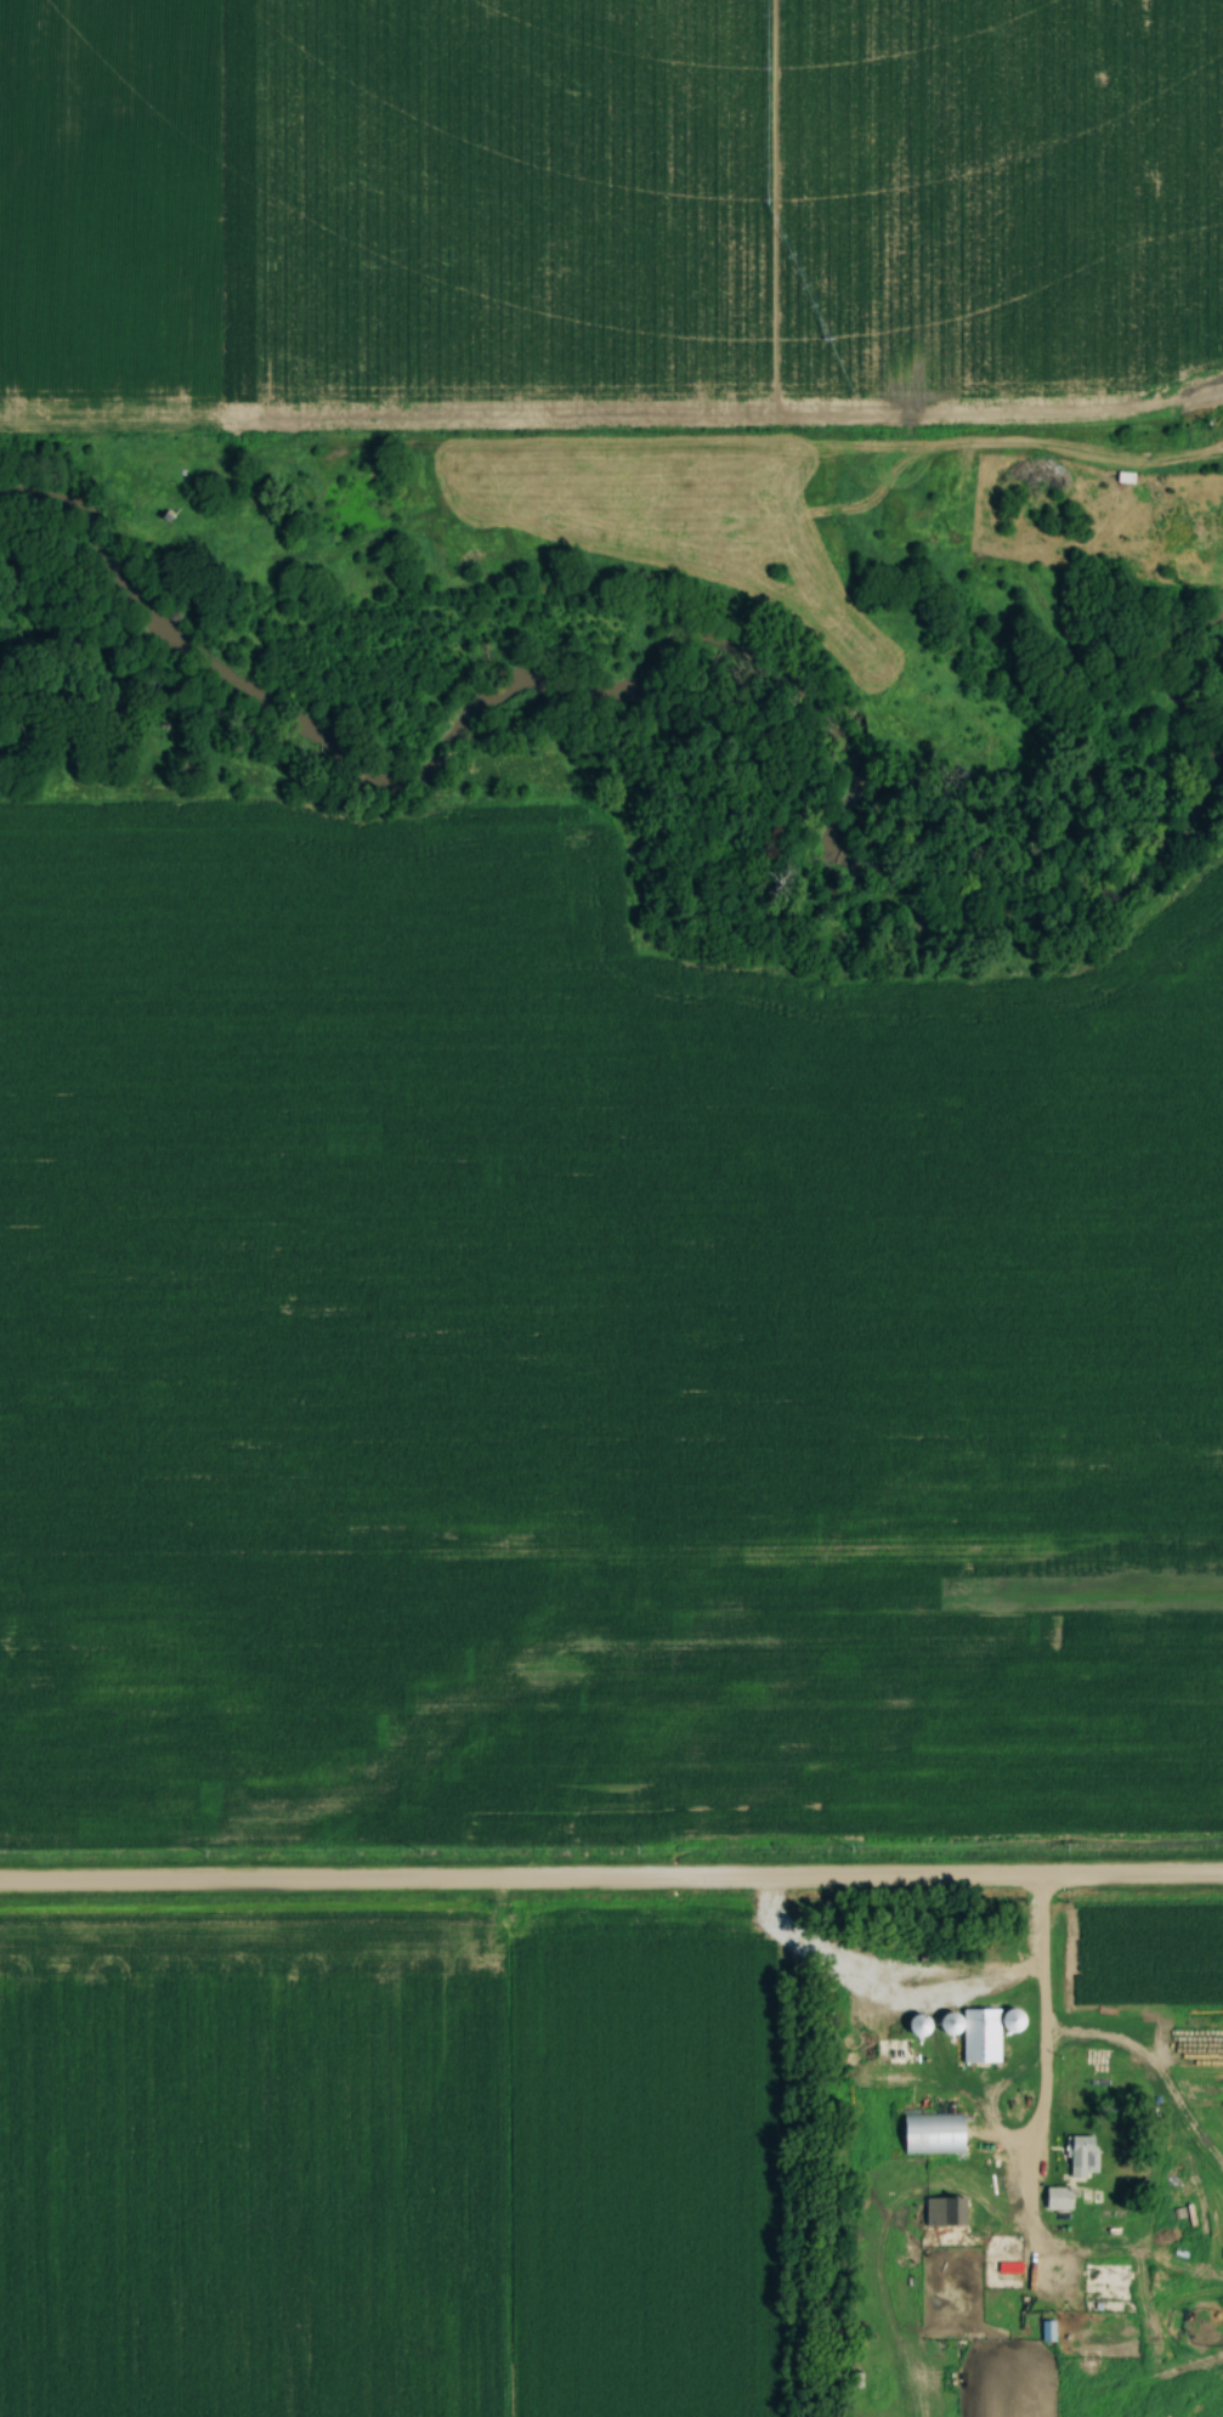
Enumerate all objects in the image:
crop: (721, 192)
building: (1195, 310)
road: (611, 1880)
road: (1040, 2015)
building: (1012, 2020)
building: (918, 2026)
building: (975, 2033)
building: (893, 2050)
building: (933, 2133)
building: (1081, 2156)
building: (1057, 2197)
building: (944, 2212)
building: (1105, 2274)

